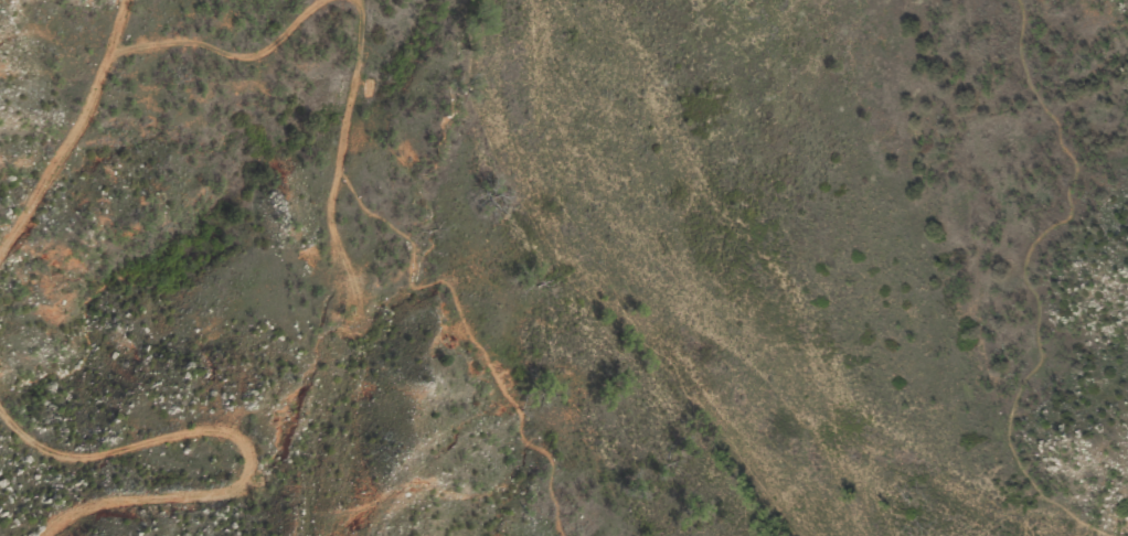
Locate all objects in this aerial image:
road: (77, 142)
road: (233, 441)

